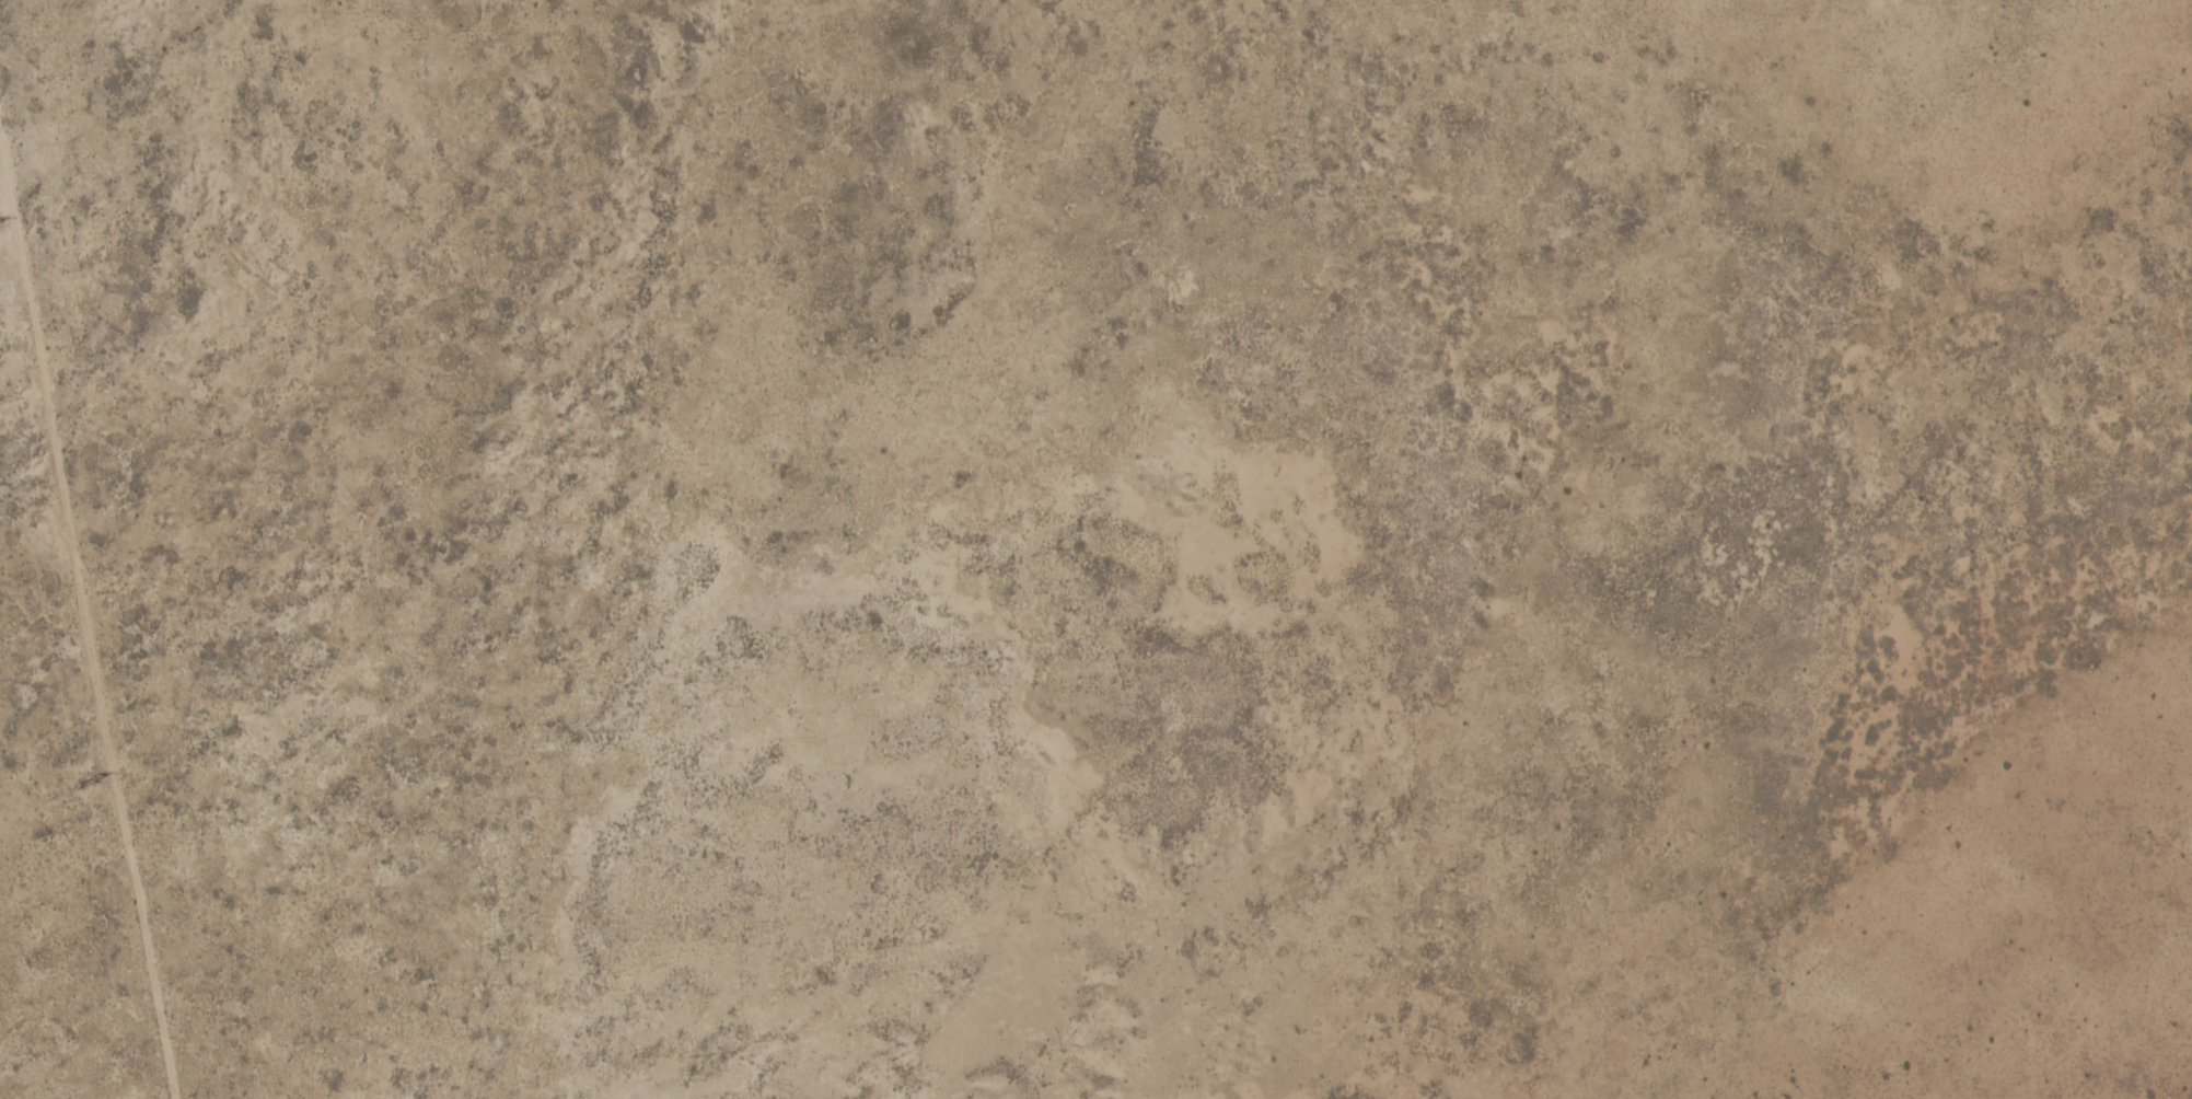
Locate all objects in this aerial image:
road: (135, 549)
power tower: (89, 786)

